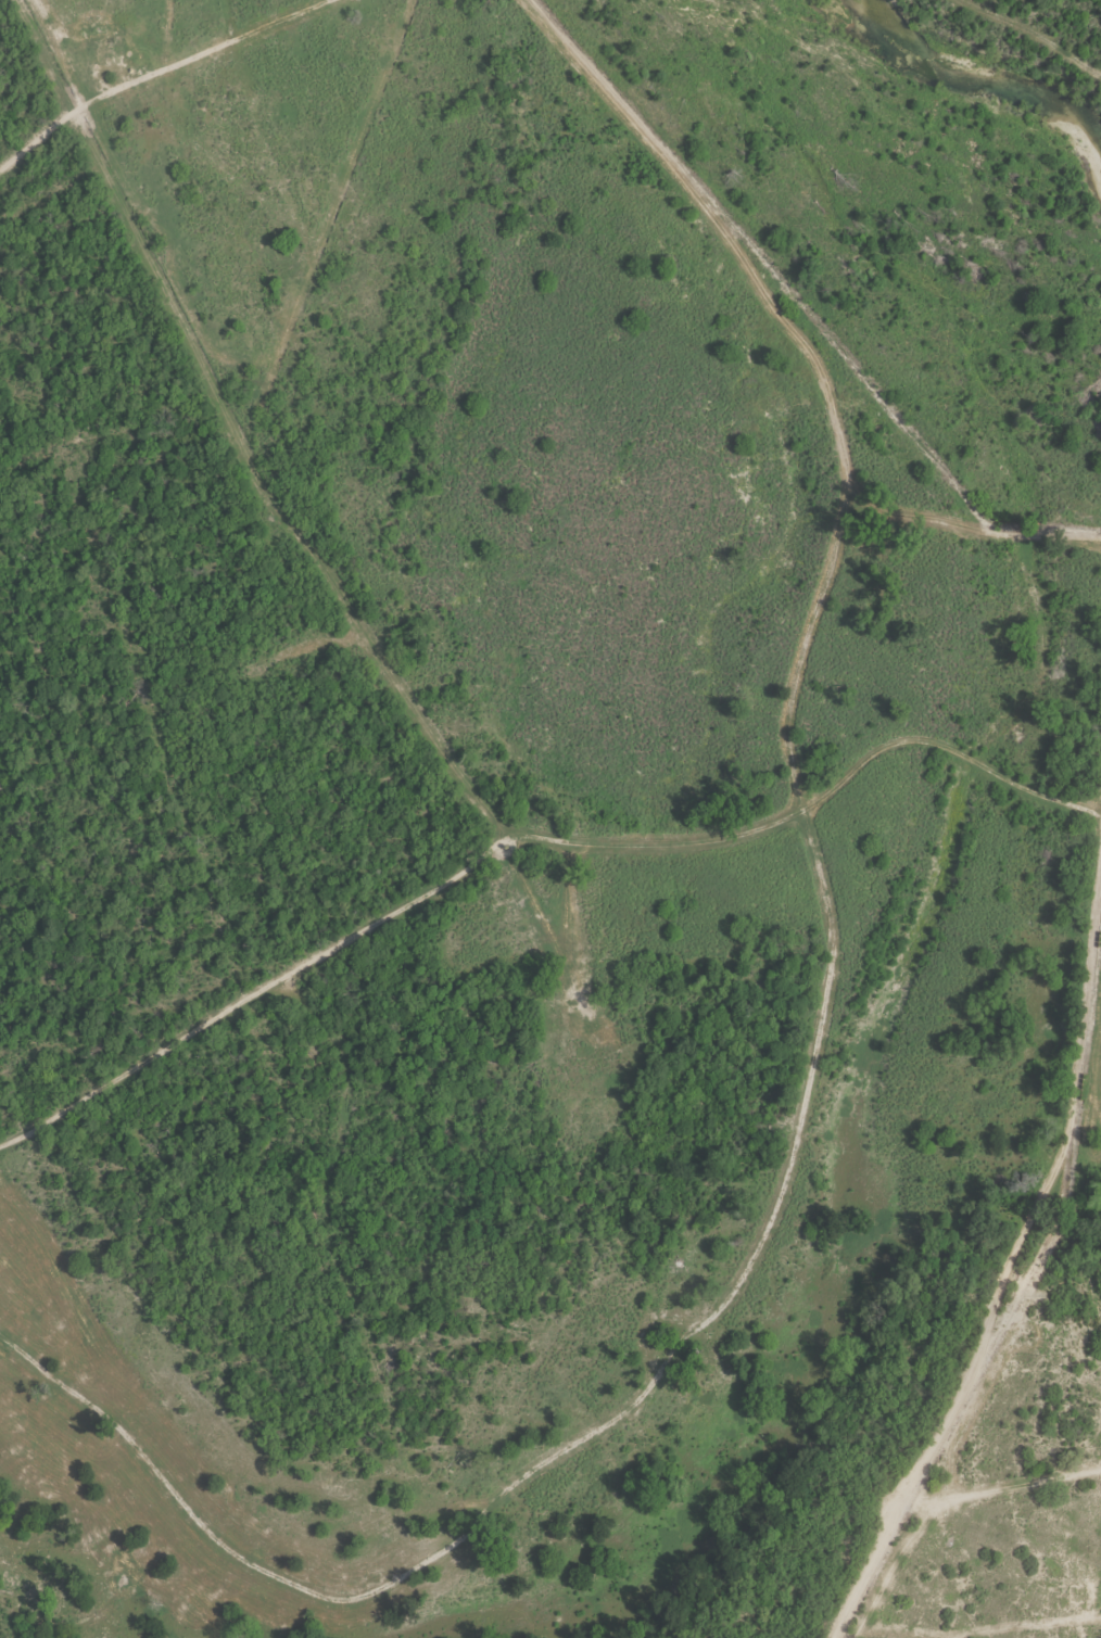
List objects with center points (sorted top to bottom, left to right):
river: (978, 80)
road: (413, 691)
road: (267, 996)
road: (937, 1511)
road: (914, 1579)

